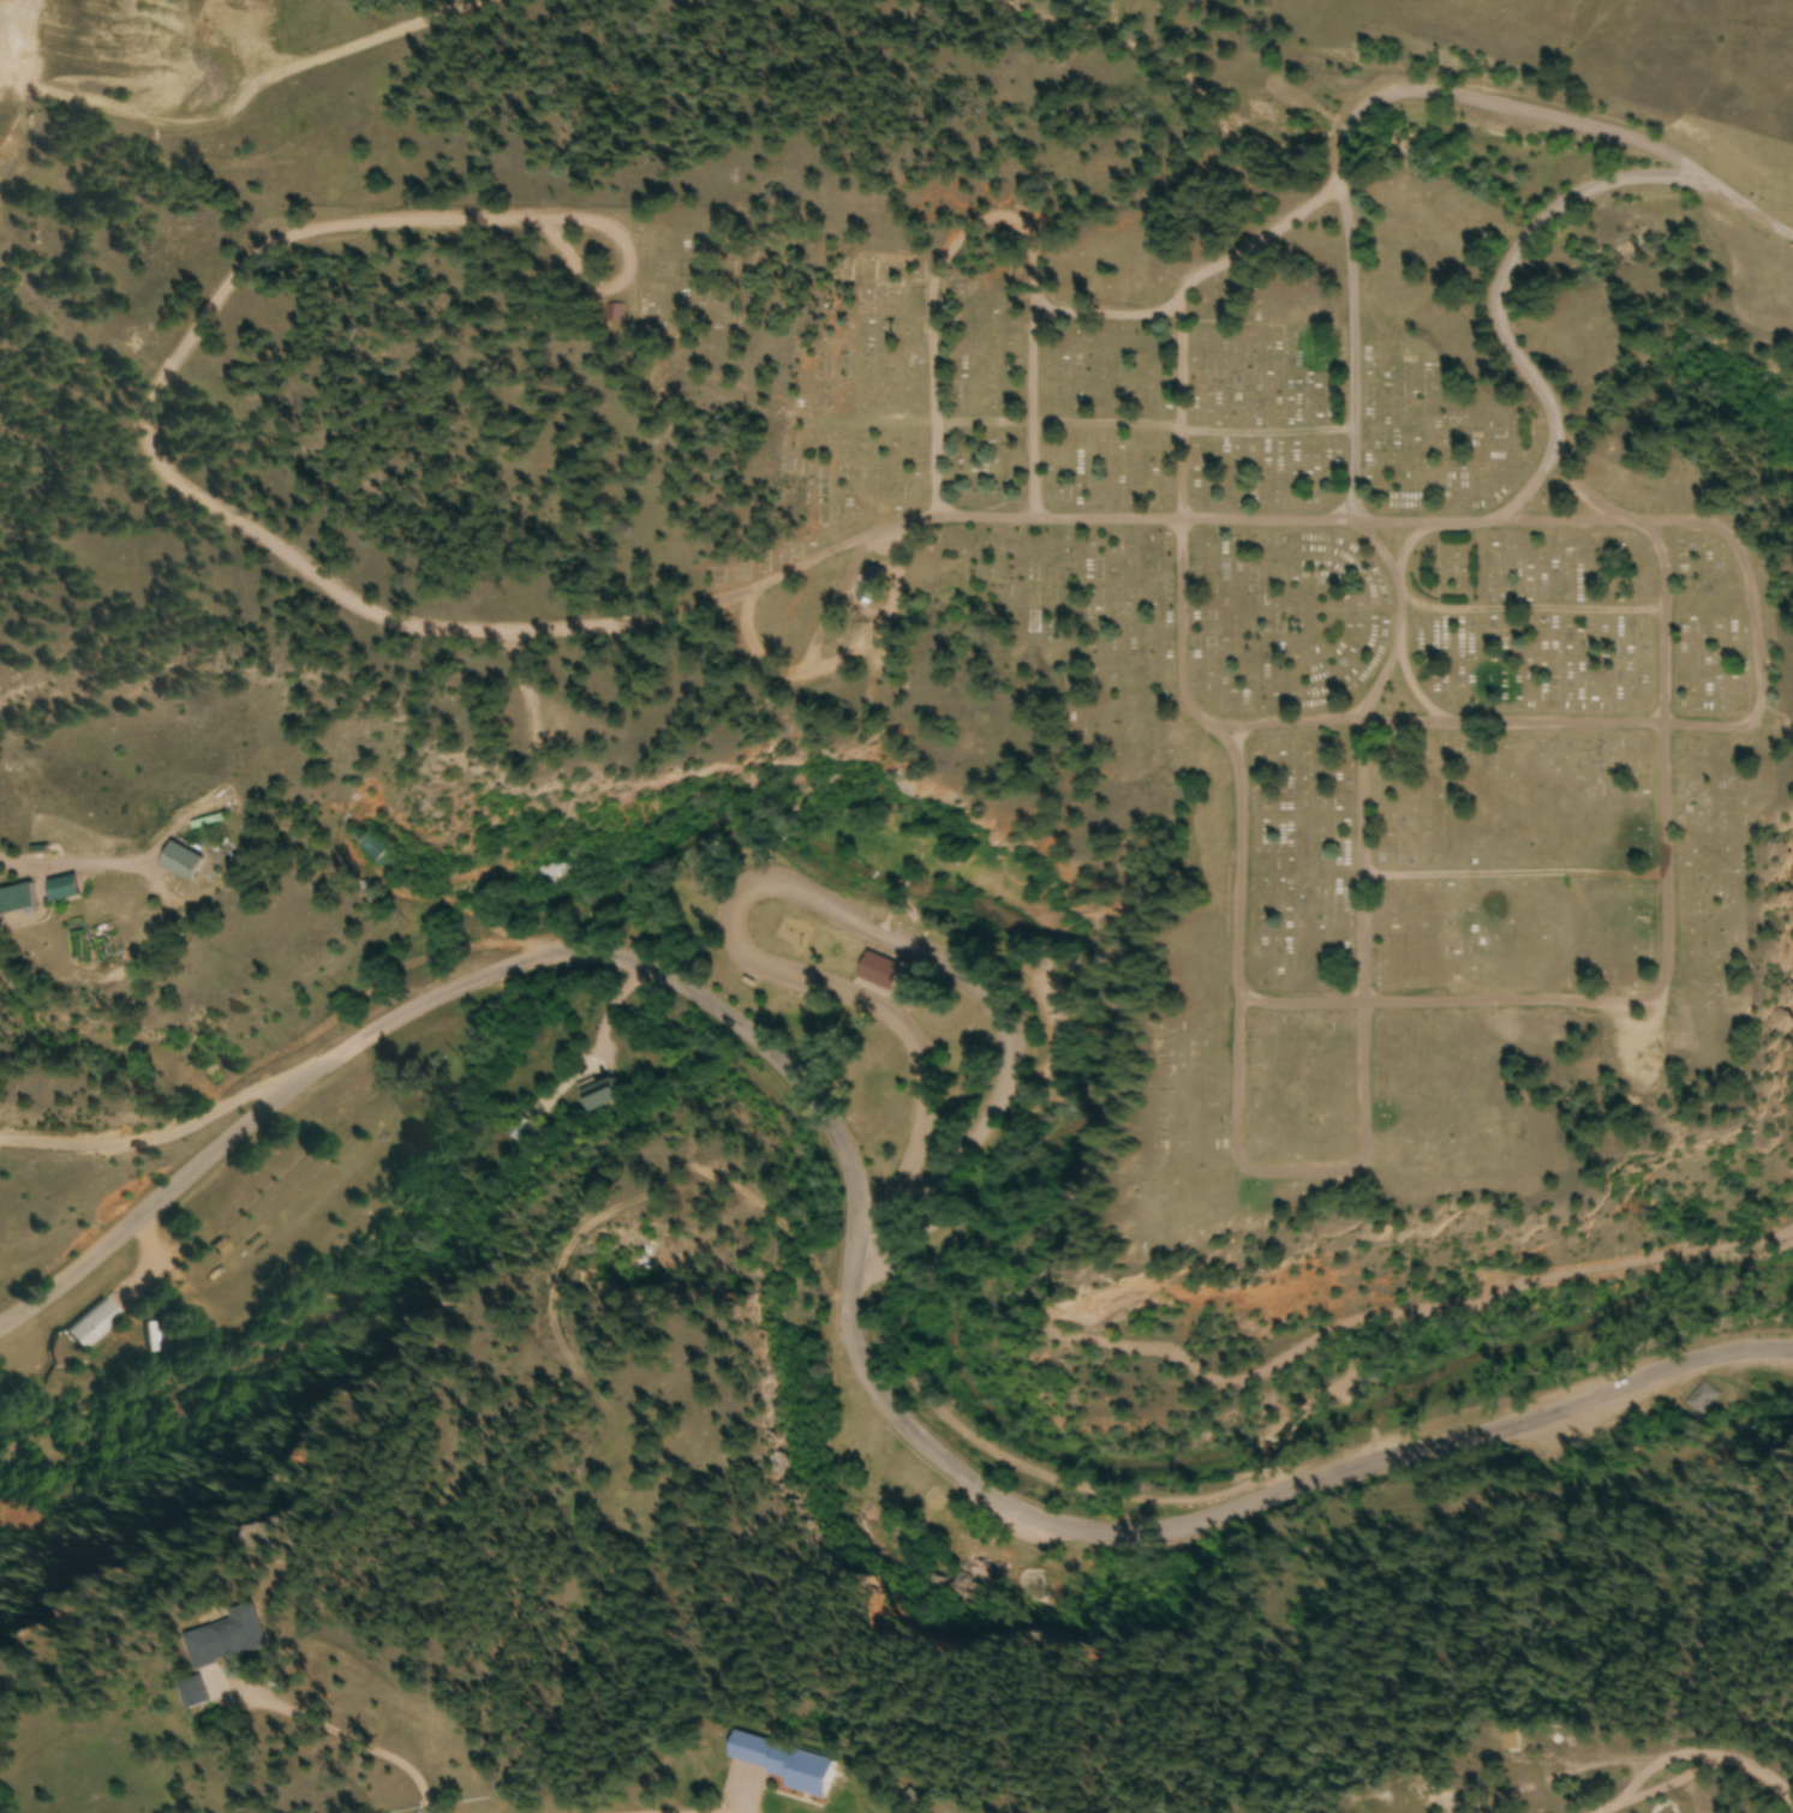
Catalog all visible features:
road: (1347, 131)
road: (1749, 209)
road: (993, 220)
road: (1202, 275)
building: (611, 315)
road: (1519, 361)
road: (1143, 423)
road: (1582, 491)
road: (1405, 544)
road: (1389, 572)
road: (833, 600)
road: (352, 608)
road: (1529, 608)
road: (832, 665)
road: (1380, 677)
road: (1414, 688)
road: (1755, 696)
road: (1291, 723)
building: (177, 863)
road: (1513, 872)
building: (550, 874)
road: (789, 887)
building: (14, 902)
building: (877, 974)
park: (862, 995)
road: (1327, 1004)
road: (1362, 1085)
building: (597, 1096)
road: (157, 1129)
building: (519, 1131)
road: (872, 1205)
road: (853, 1243)
building: (88, 1328)
building: (1702, 1400)
river: (997, 1422)
park: (968, 1507)
building: (966, 1590)
building: (217, 1641)
building: (1506, 1743)
building: (778, 1766)
road: (1698, 1772)

